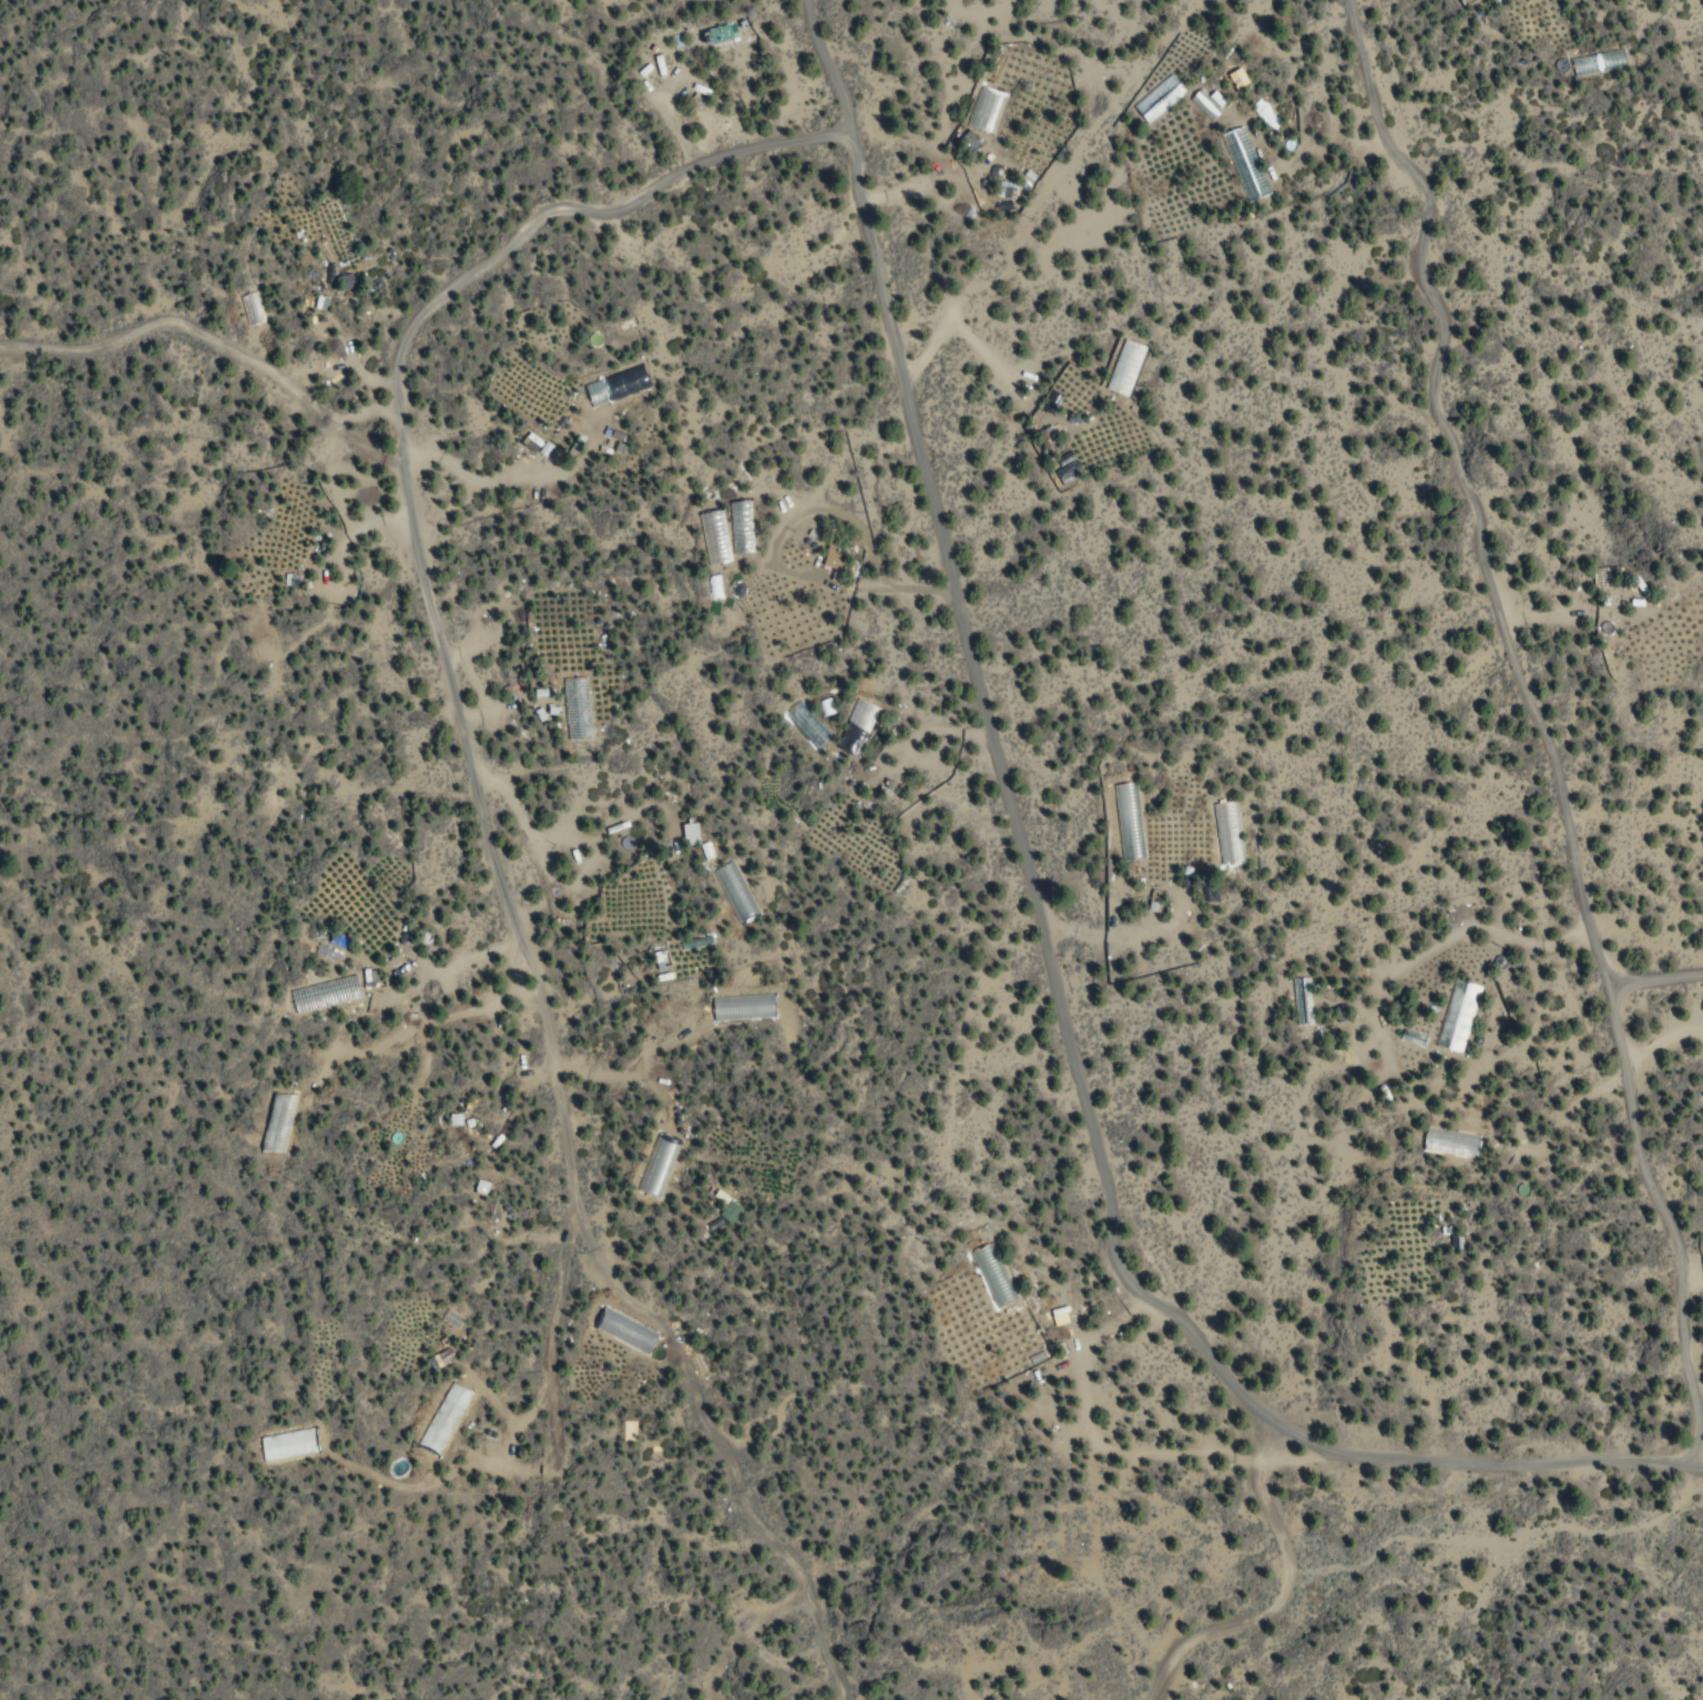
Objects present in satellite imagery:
building: (1468, 0)
building: (720, 34)
building: (985, 113)
building: (1244, 163)
building: (335, 233)
road: (213, 342)
building: (1125, 367)
building: (740, 526)
building: (834, 560)
building: (259, 631)
building: (575, 709)
road: (1528, 722)
building: (856, 727)
road: (468, 793)
building: (1227, 835)
road: (1040, 954)
building: (661, 959)
road: (1652, 977)
building: (324, 994)
building: (1456, 1016)
building: (1339, 1027)
building: (657, 1165)
building: (728, 1212)
building: (990, 1337)
road: (1292, 1598)

